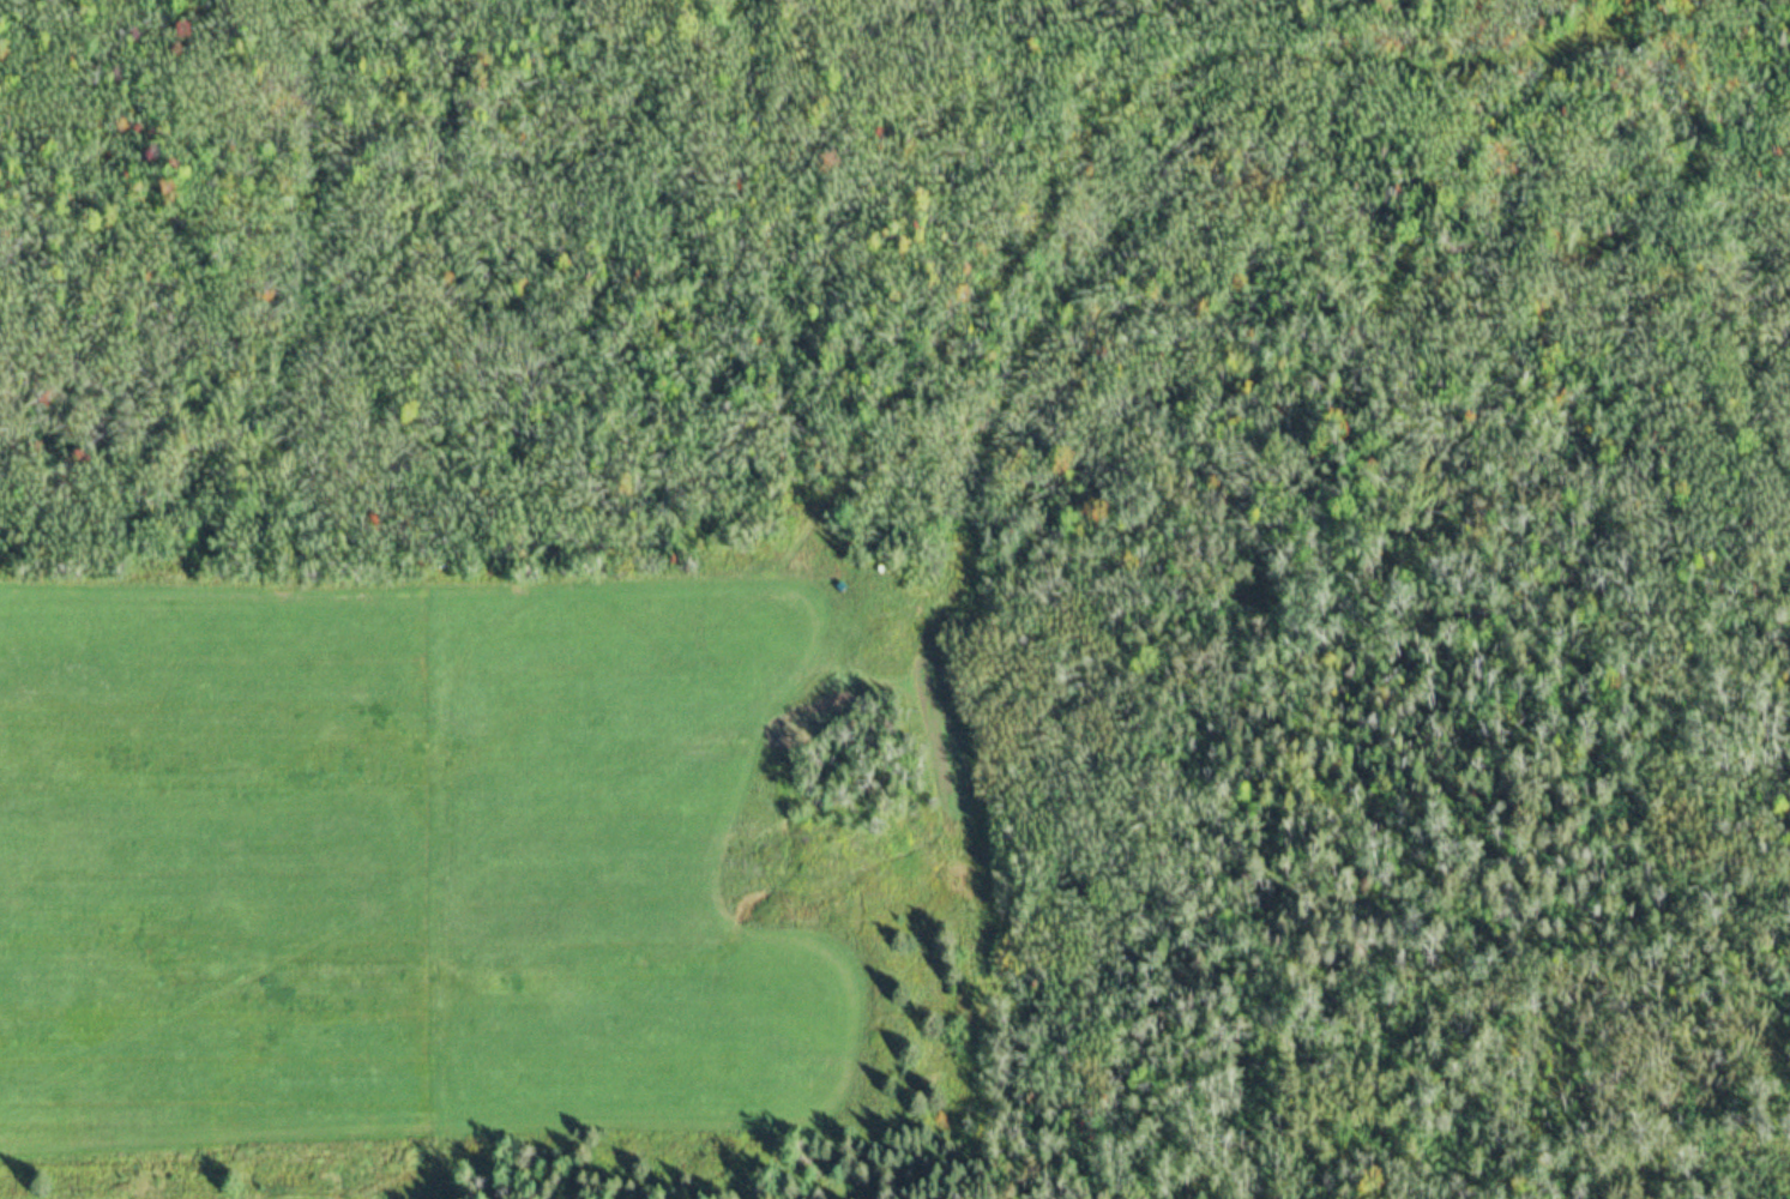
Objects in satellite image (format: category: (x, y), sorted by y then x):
road: (25, 1169)

